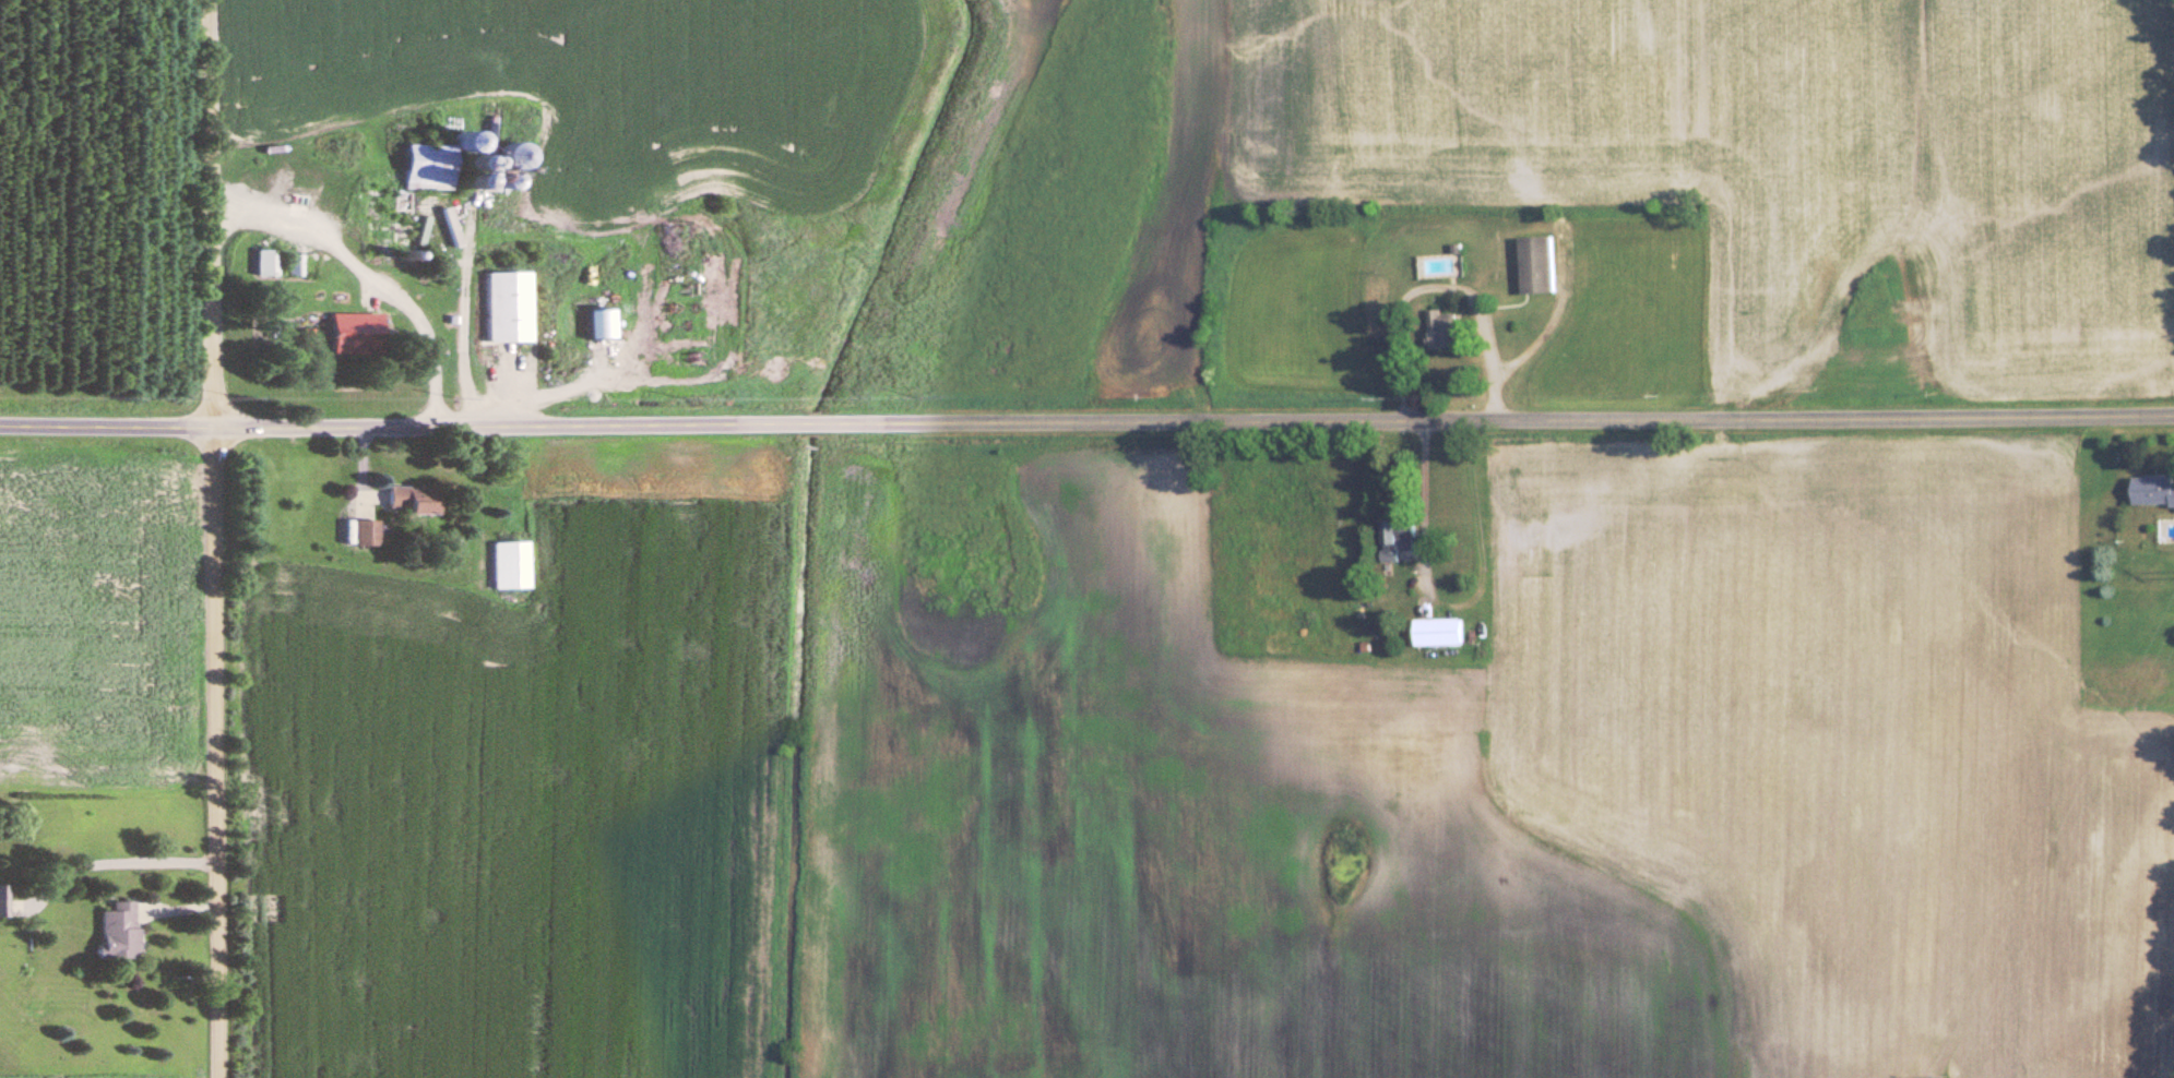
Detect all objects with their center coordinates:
building: (504, 156)
building: (424, 161)
building: (277, 262)
building: (1536, 264)
road: (366, 280)
road: (1438, 287)
building: (499, 307)
building: (1444, 330)
building: (351, 332)
road: (459, 344)
road: (1086, 424)
road: (1424, 489)
building: (2152, 489)
building: (405, 499)
building: (360, 534)
building: (1398, 537)
road: (217, 538)
building: (506, 564)
building: (1437, 631)
road: (107, 865)
building: (2, 899)
building: (114, 930)
power tower: (1951, 1069)

